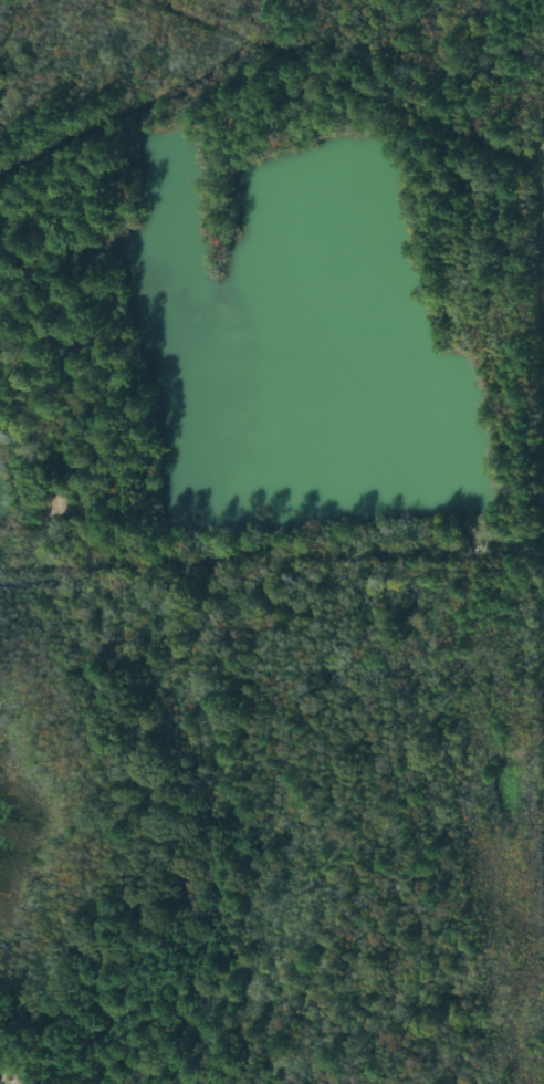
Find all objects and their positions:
road: (272, 573)

